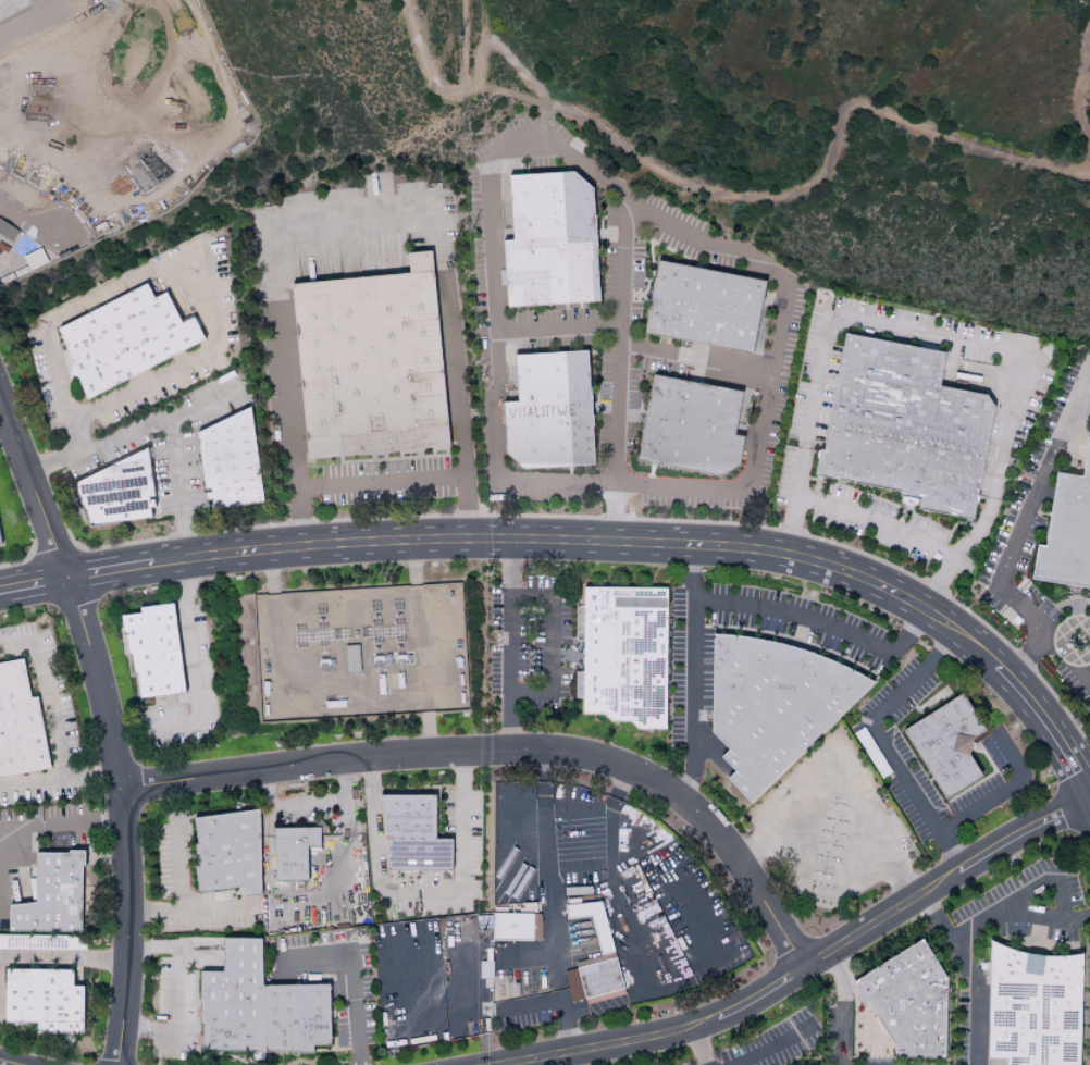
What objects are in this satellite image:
road: (34, 20)
power tower: (458, 32)
road: (1082, 87)
road: (492, 163)
road: (734, 195)
power tower: (470, 201)
road: (24, 230)
road: (358, 230)
building: (554, 239)
road: (150, 269)
road: (622, 270)
building: (706, 307)
road: (558, 332)
building: (127, 340)
road: (999, 354)
building: (372, 360)
road: (716, 367)
power tower: (479, 389)
road: (1085, 404)
building: (553, 411)
building: (907, 425)
building: (693, 428)
road: (122, 441)
road: (172, 454)
building: (233, 463)
road: (382, 483)
building: (119, 493)
building: (1068, 533)
road: (1016, 537)
building: (1, 538)
road: (587, 541)
road: (110, 571)
power tower: (488, 575)
road: (930, 582)
road: (33, 585)
road: (518, 598)
building: (575, 622)
road: (819, 622)
building: (150, 648)
power substation: (359, 649)
building: (621, 653)
road: (193, 664)
road: (1065, 667)
road: (688, 674)
road: (46, 695)
building: (768, 703)
building: (18, 722)
power tower: (486, 723)
road: (108, 725)
road: (1049, 725)
road: (883, 742)
building: (943, 743)
road: (509, 751)
road: (59, 779)
road: (844, 789)
road: (1004, 790)
road: (61, 827)
building: (408, 833)
road: (639, 845)
building: (223, 851)
building: (289, 851)
road: (334, 858)
road: (177, 867)
building: (48, 894)
road: (421, 905)
road: (189, 911)
road: (1006, 911)
road: (1028, 918)
building: (591, 920)
building: (513, 926)
power tower: (485, 934)
road: (64, 958)
road: (808, 964)
road: (185, 969)
building: (484, 969)
road: (354, 971)
building: (591, 977)
building: (41, 999)
building: (902, 1000)
road: (553, 1002)
road: (975, 1002)
building: (255, 1005)
building: (1030, 1006)
road: (842, 1007)
road: (152, 1026)
road: (693, 1045)
road: (771, 1047)
building: (784, 1064)

